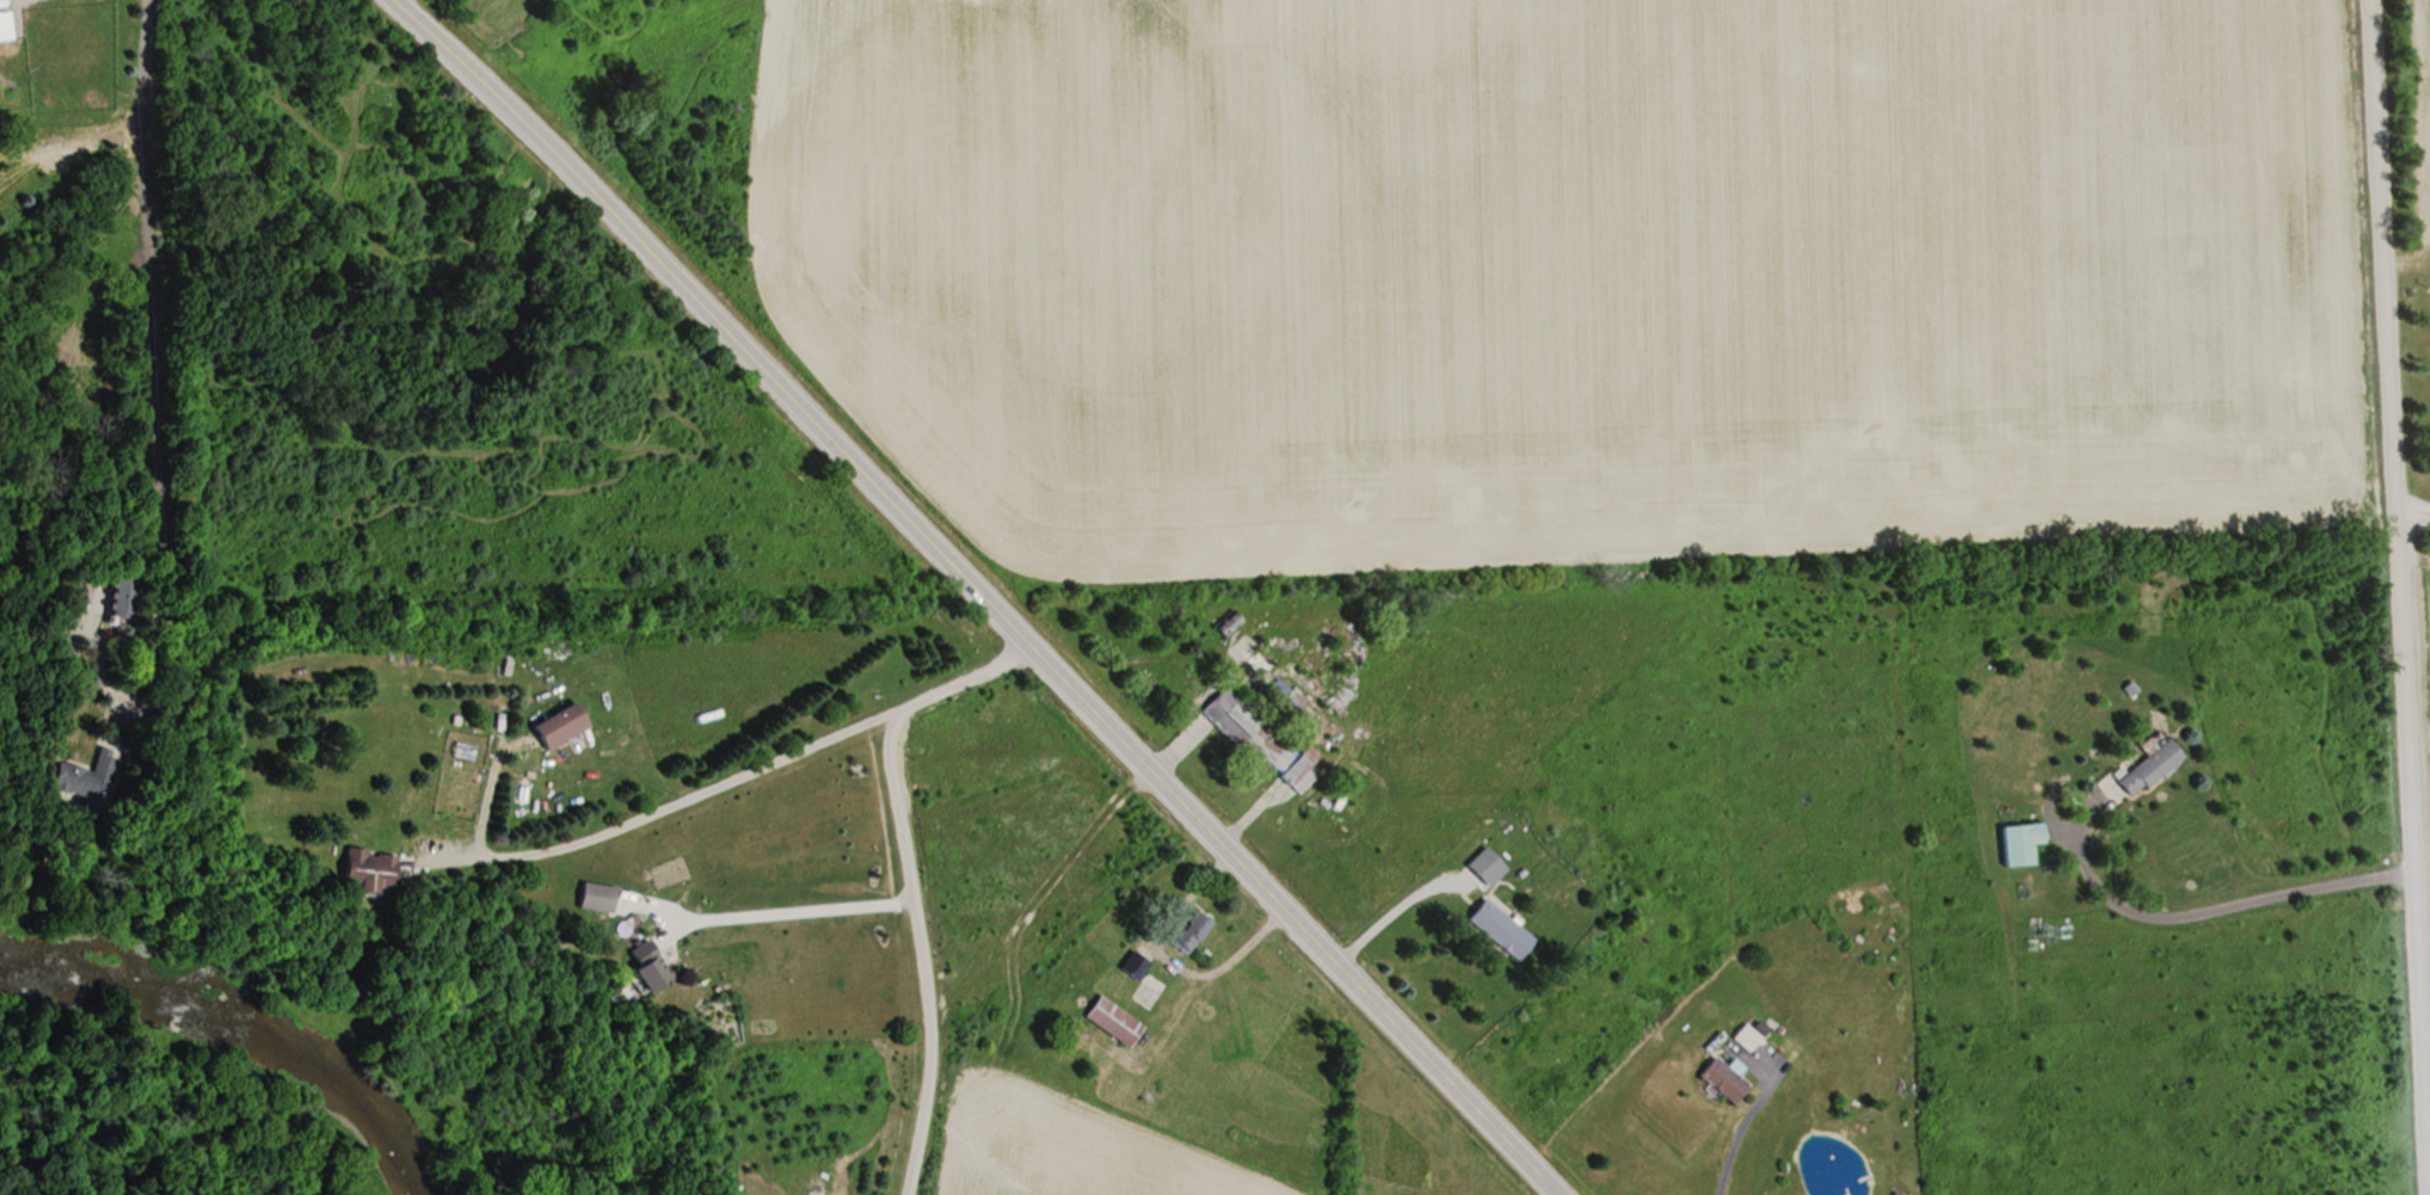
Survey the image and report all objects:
building: (2, 20)
road: (976, 595)
road: (2393, 597)
building: (122, 598)
building: (561, 723)
building: (1263, 739)
building: (2151, 766)
building: (85, 776)
building: (2022, 842)
building: (369, 868)
building: (1484, 868)
building: (597, 897)
road: (1388, 905)
building: (1501, 929)
building: (1189, 930)
building: (651, 965)
building: (1134, 965)
building: (1151, 987)
building: (1113, 1021)
building: (1746, 1036)
building: (1724, 1079)
road: (1735, 1120)

